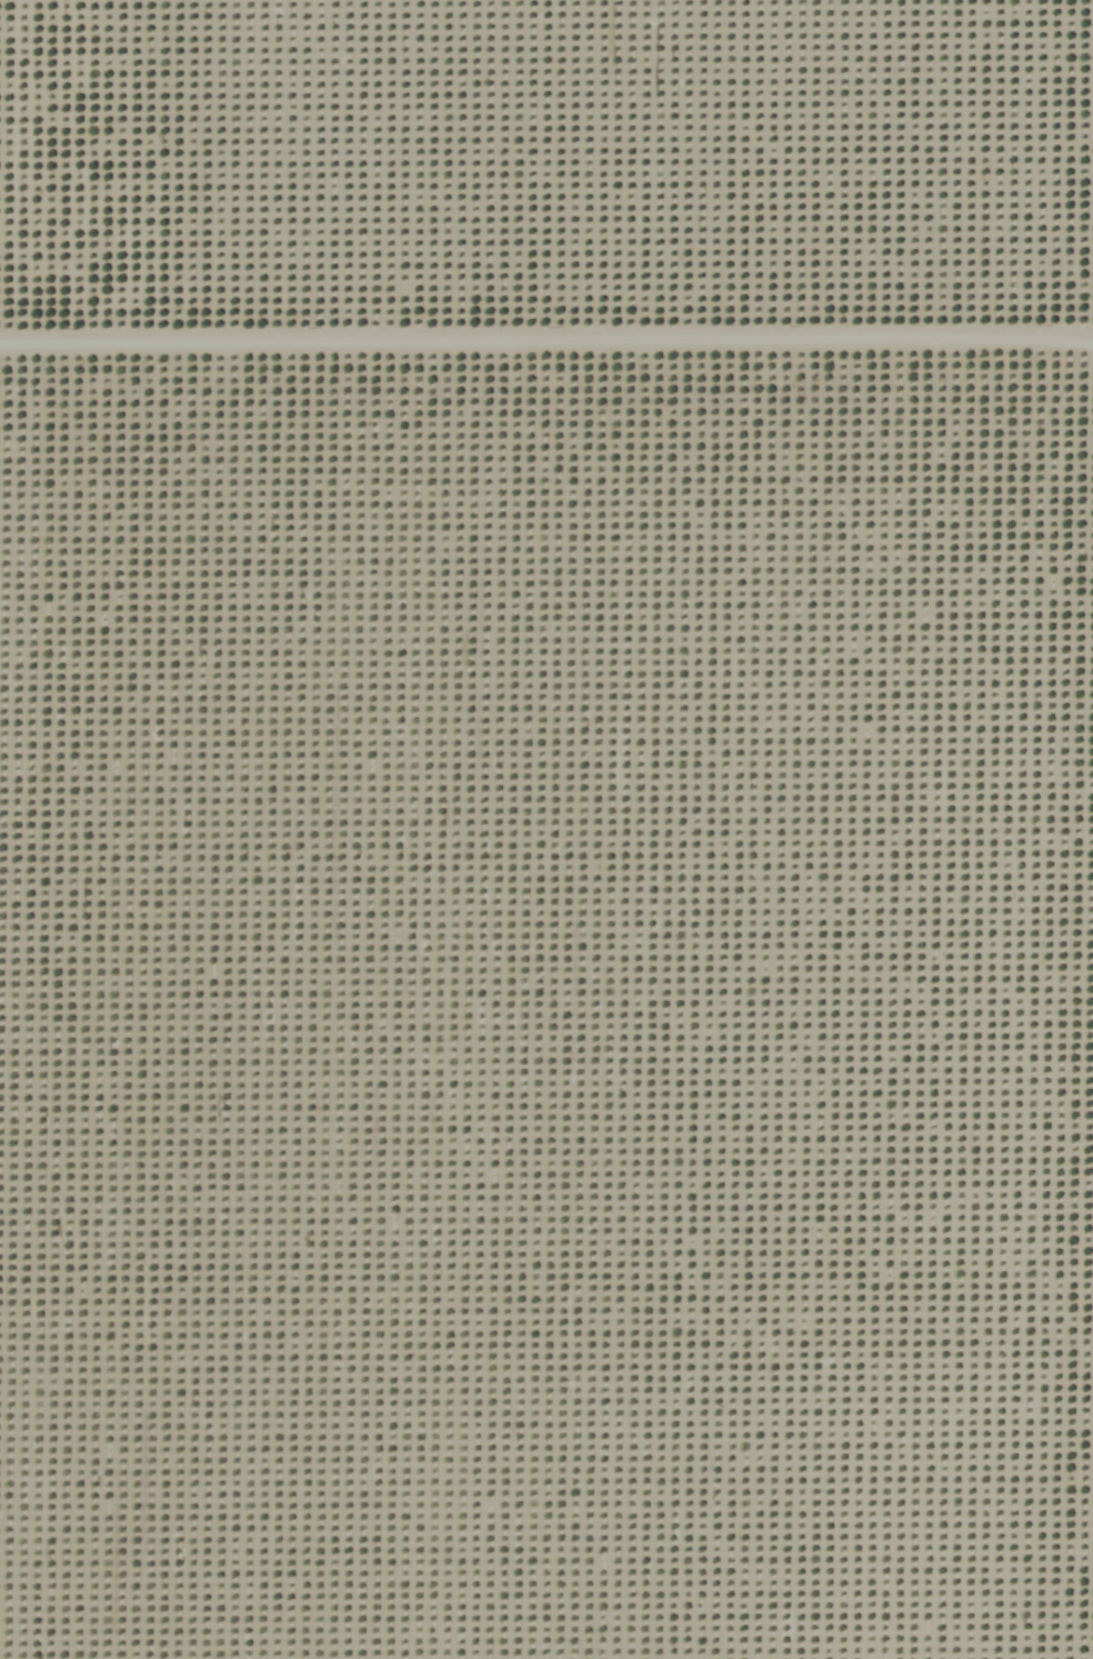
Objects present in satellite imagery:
crop: (542, 184)
crop: (546, 1015)

